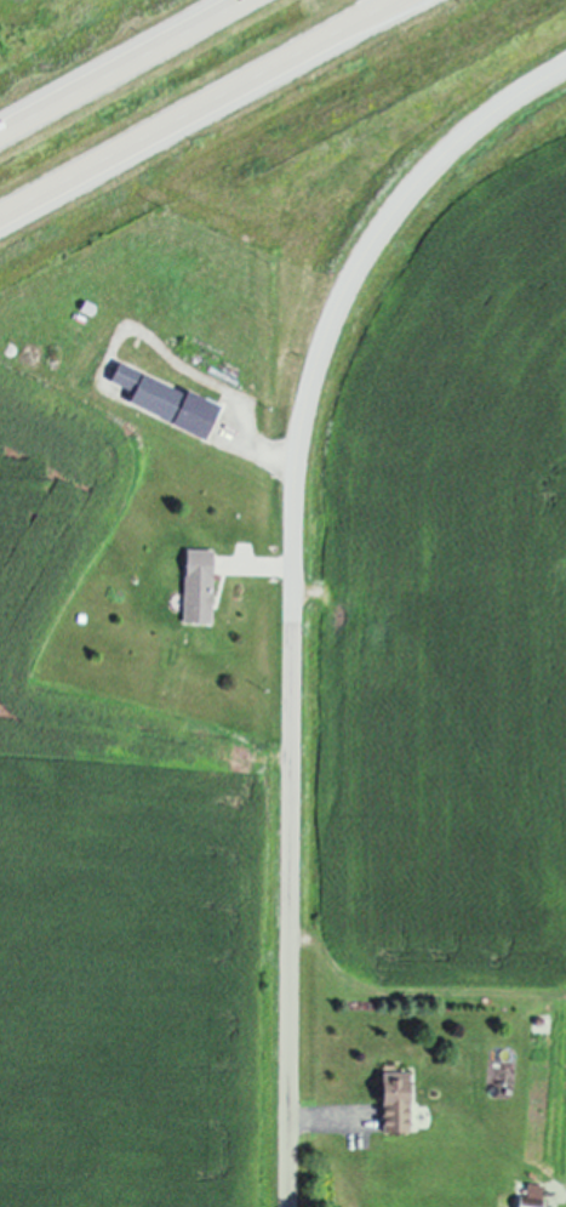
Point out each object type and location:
road: (367, 13)
road: (121, 67)
road: (199, 110)
building: (172, 402)
road: (271, 452)
road: (264, 569)
building: (202, 586)
road: (296, 586)
building: (402, 1101)
road: (322, 1121)
building: (536, 1196)

